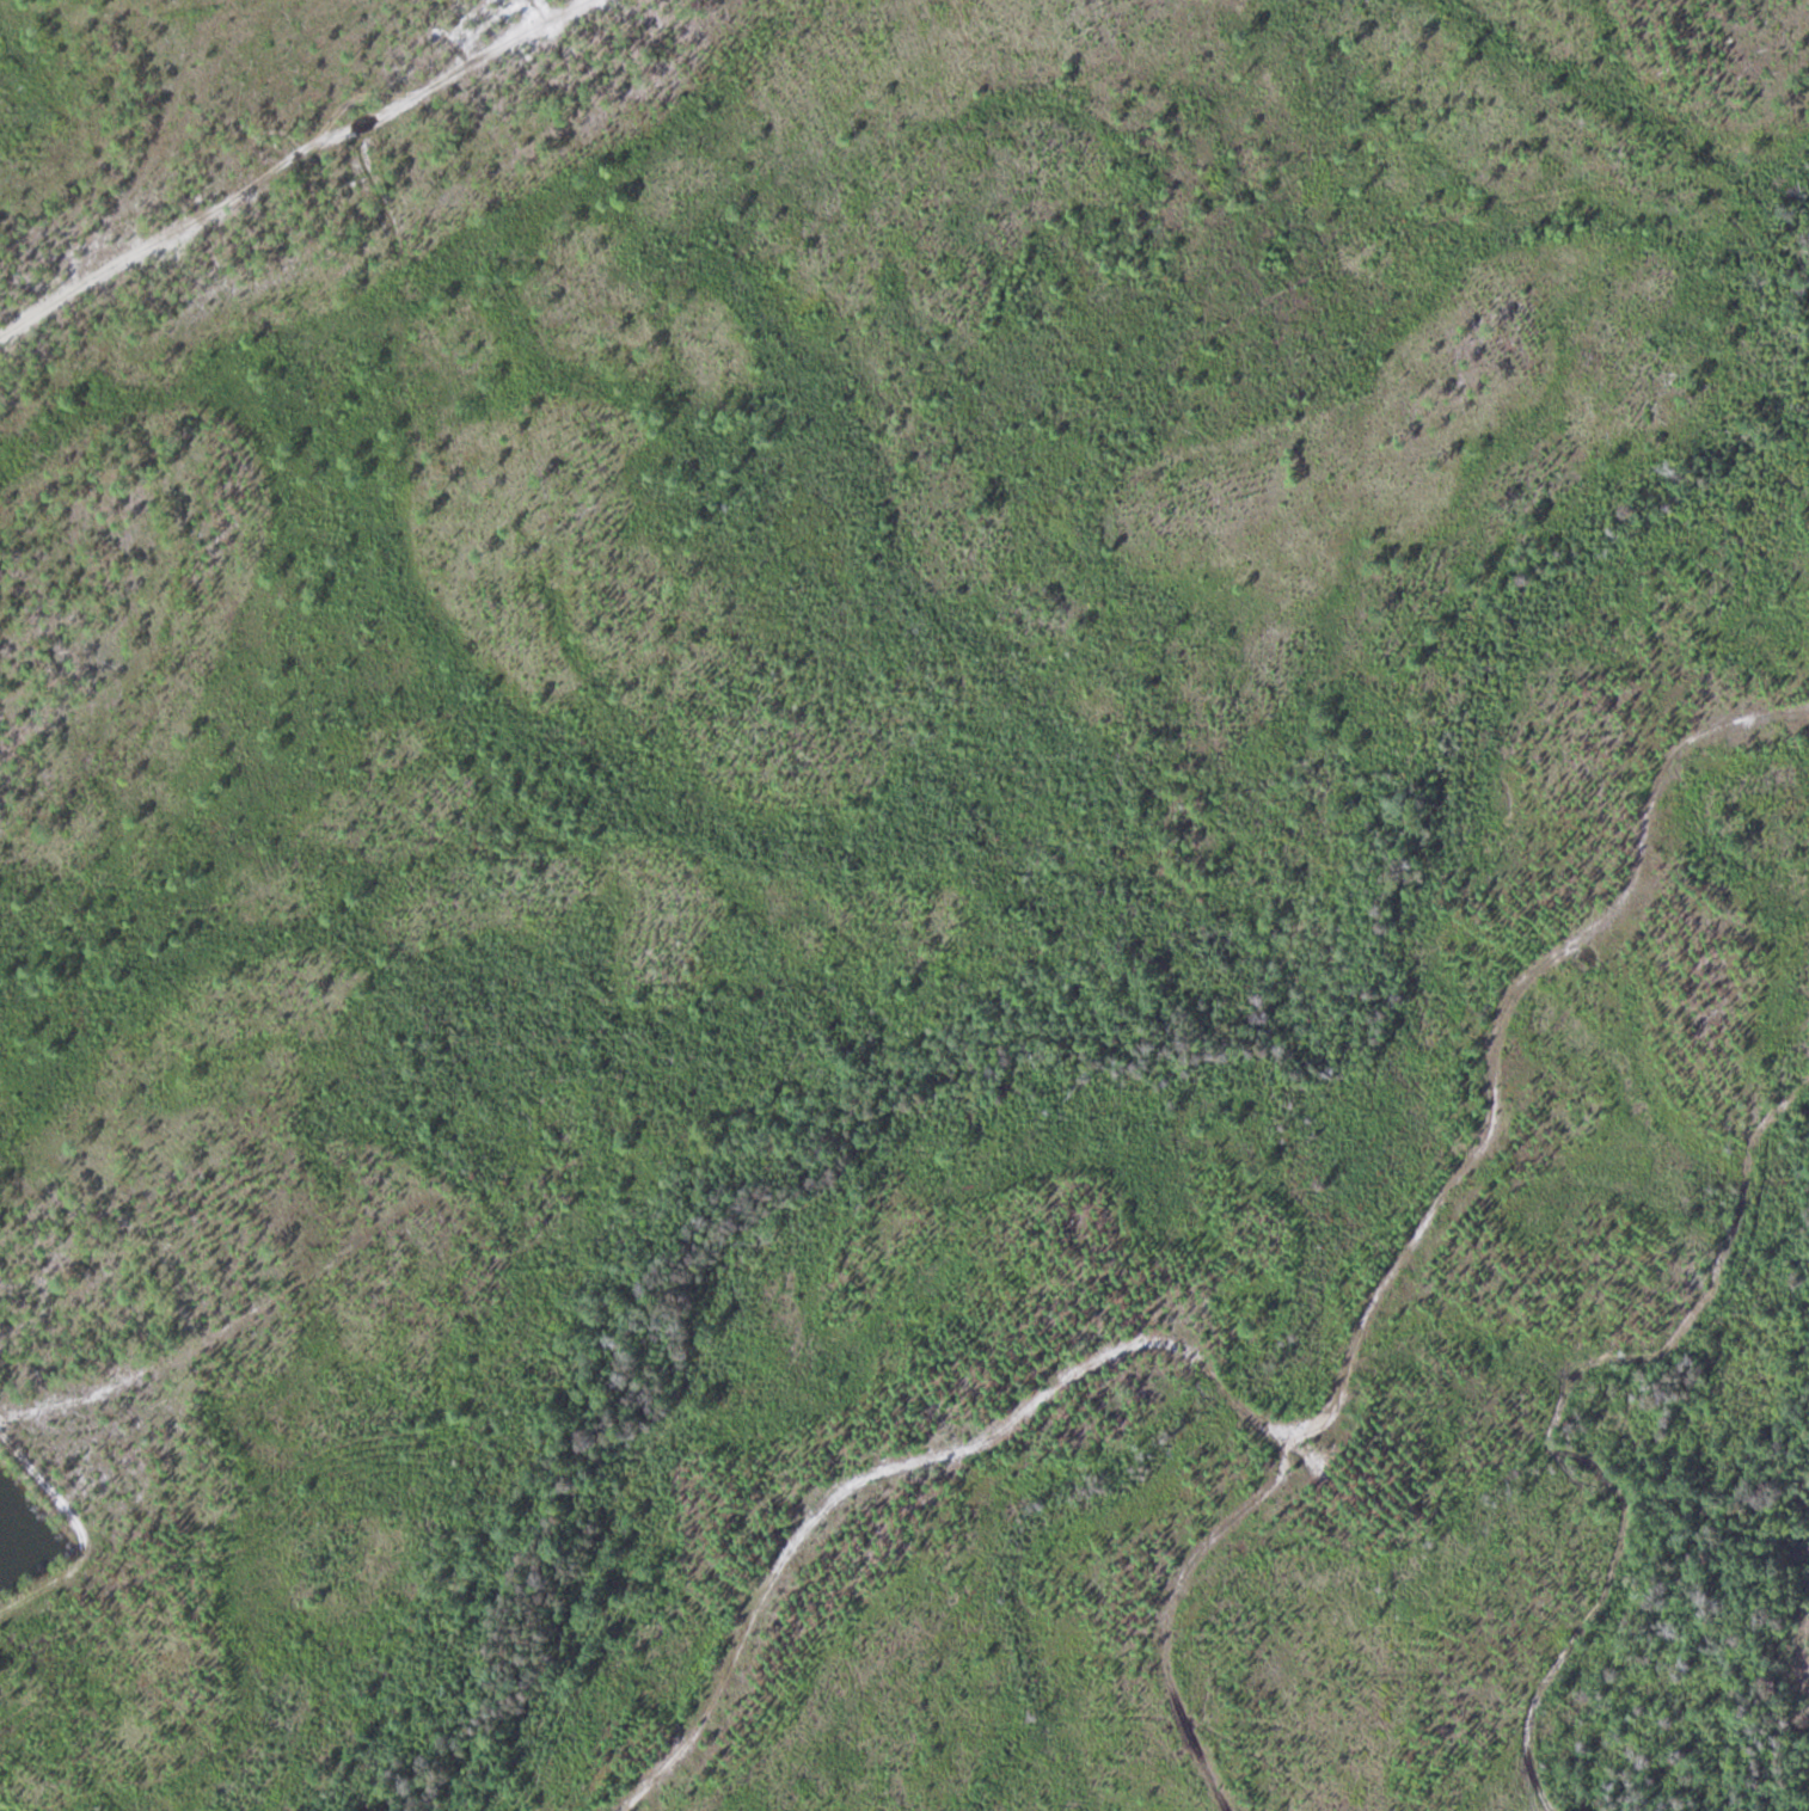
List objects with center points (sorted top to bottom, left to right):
road: (290, 155)
road: (80, 1527)

